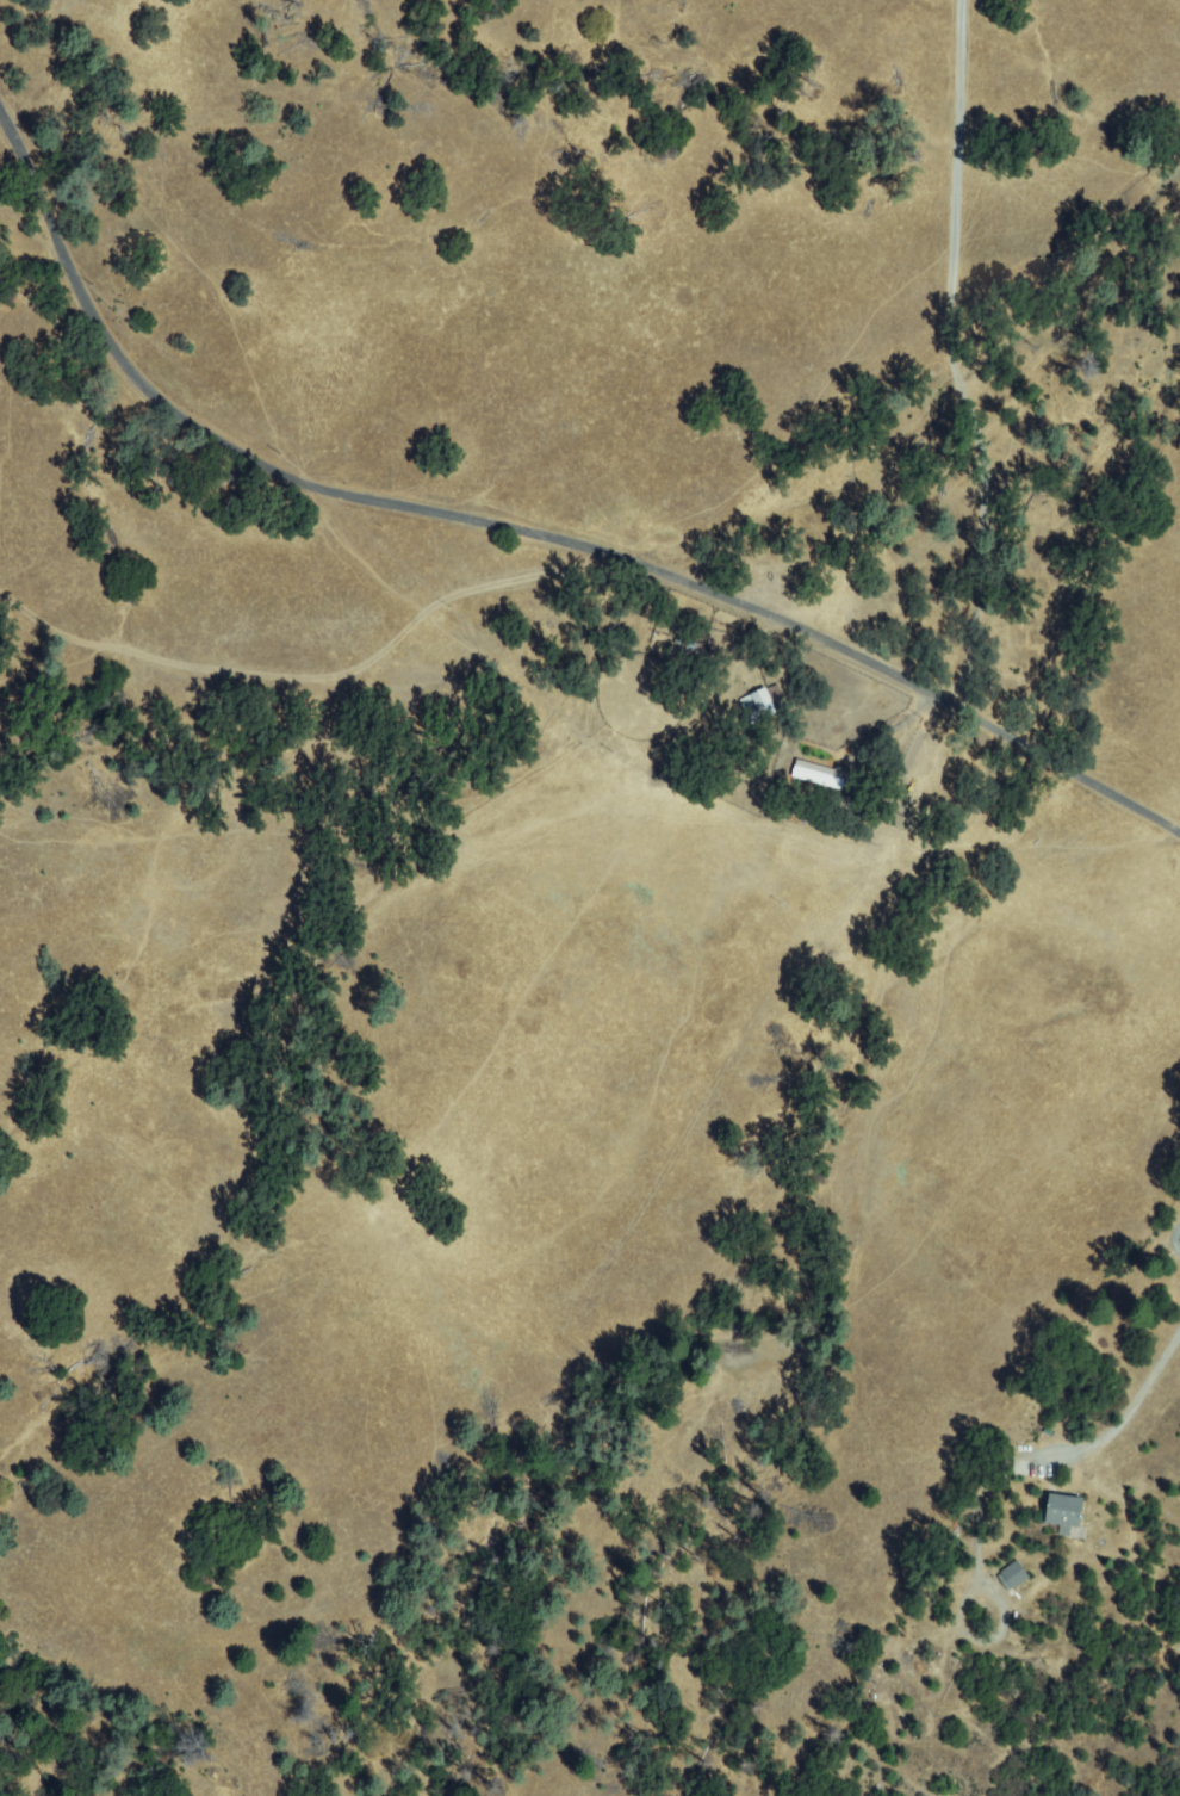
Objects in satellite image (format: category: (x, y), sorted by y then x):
road: (969, 352)
road: (520, 527)
building: (764, 705)
building: (750, 707)
building: (820, 775)
building: (1175, 1241)
building: (1063, 1511)
building: (1014, 1577)

